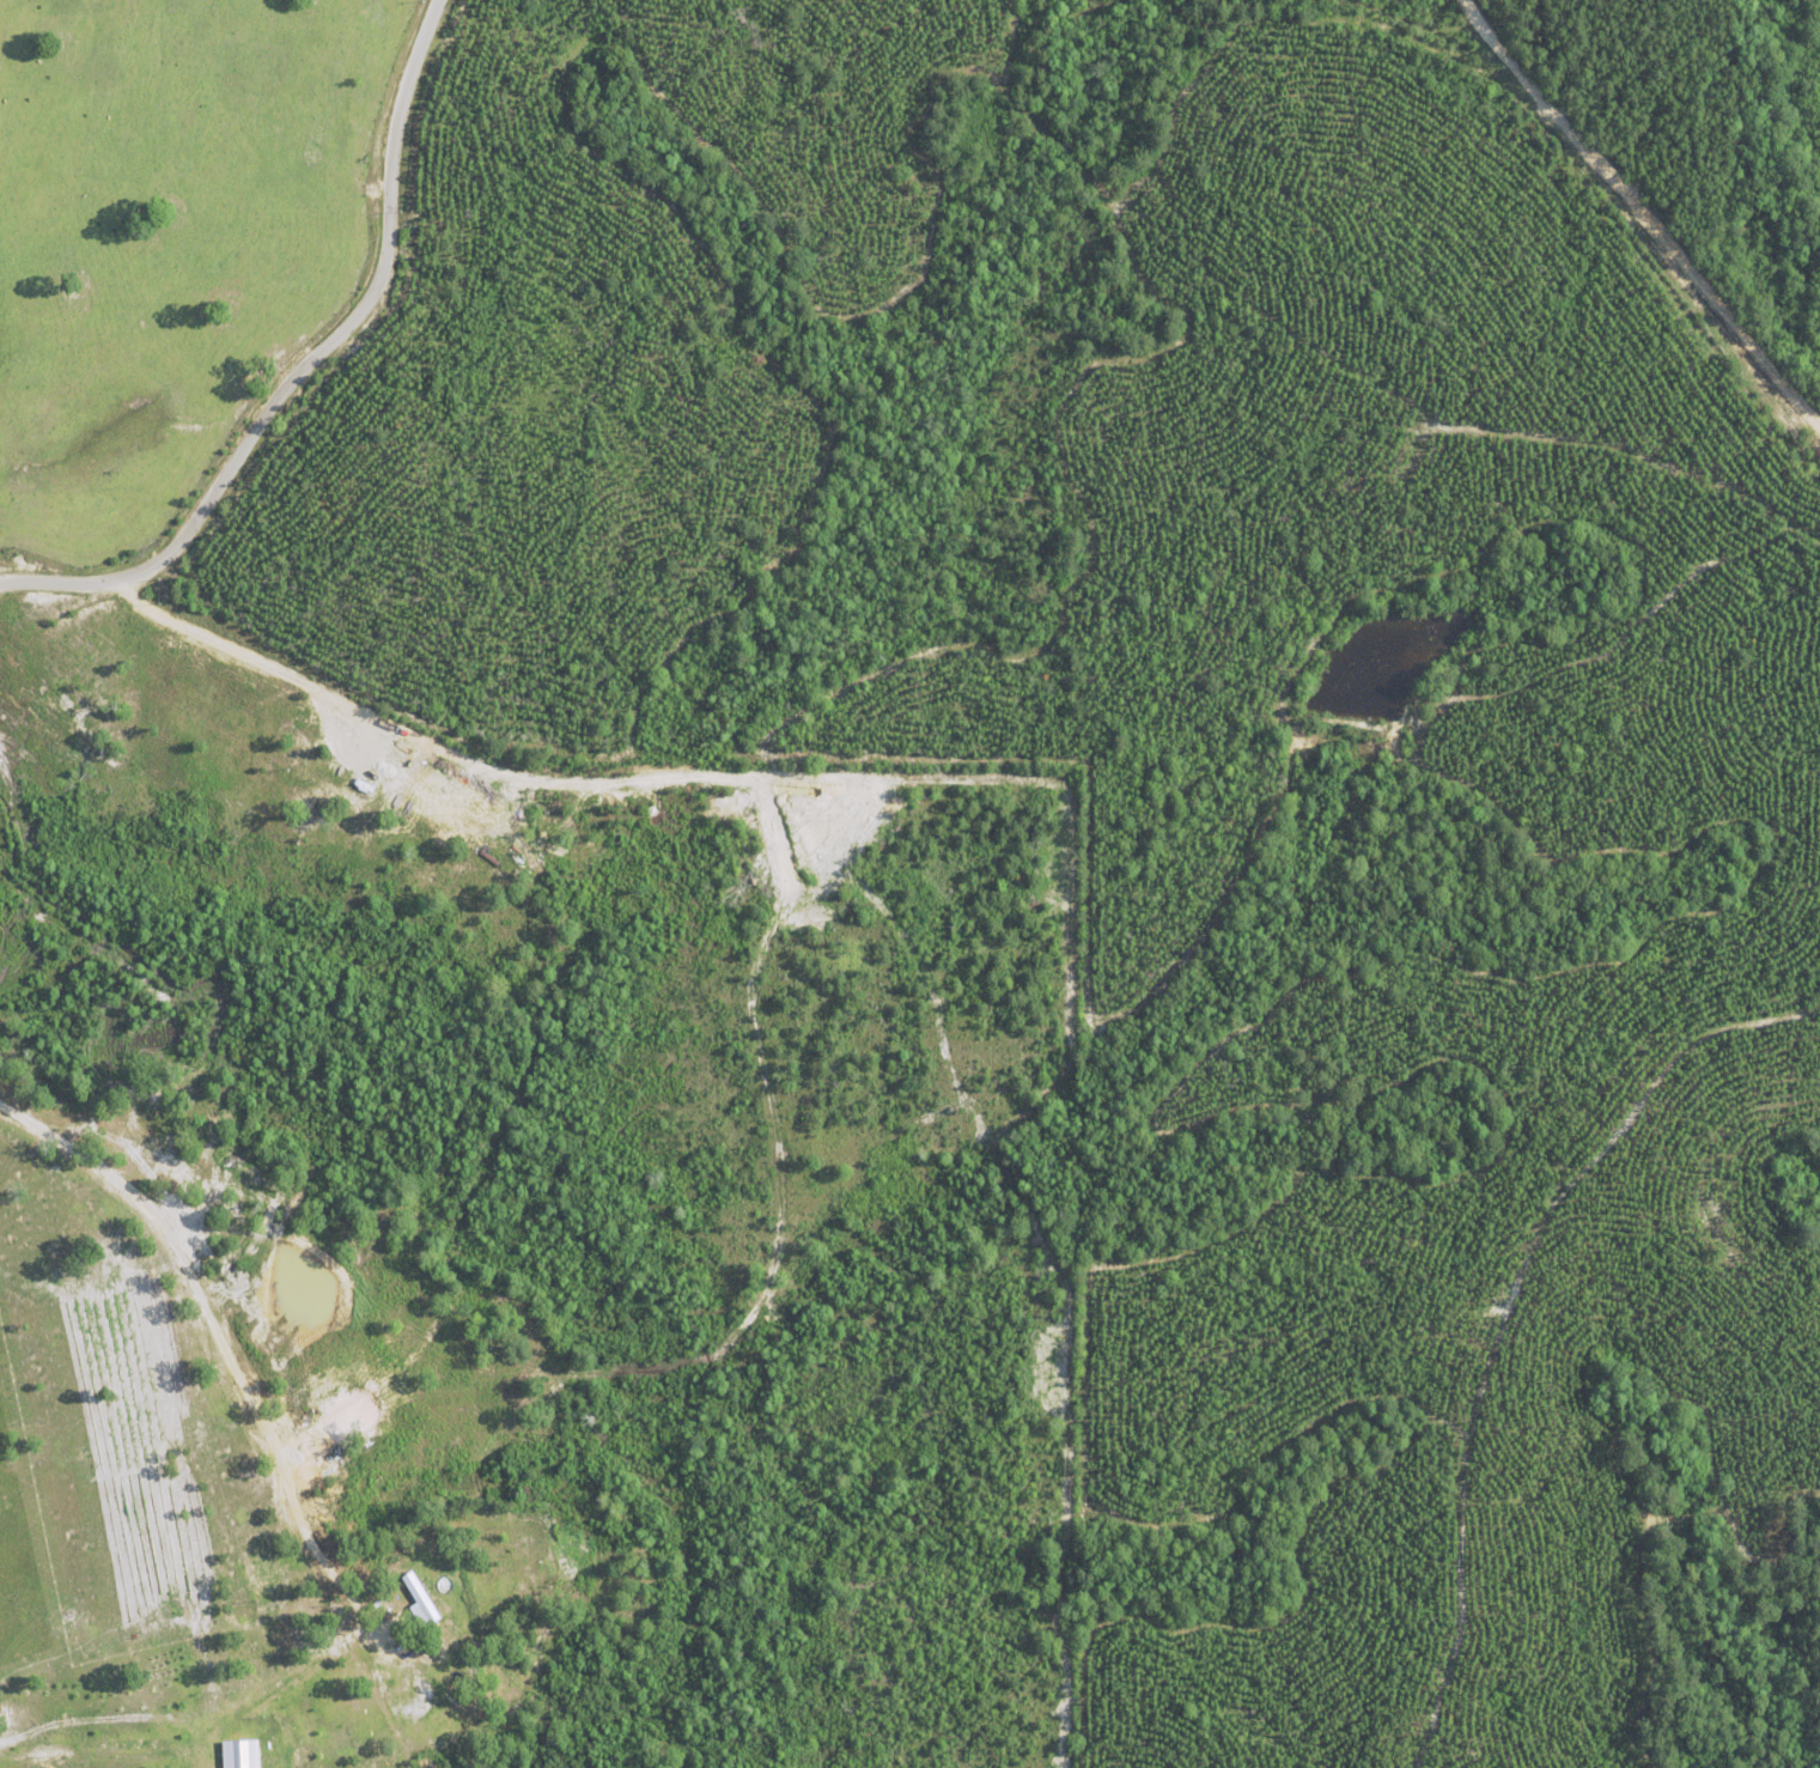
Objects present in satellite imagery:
road: (1641, 213)
road: (304, 369)
building: (418, 1597)
building: (238, 1754)

